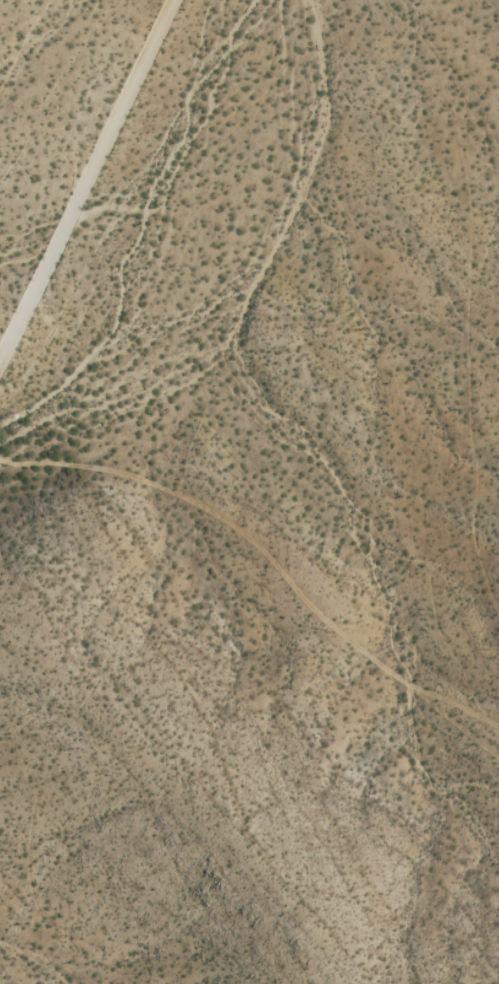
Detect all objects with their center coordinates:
road: (85, 174)

